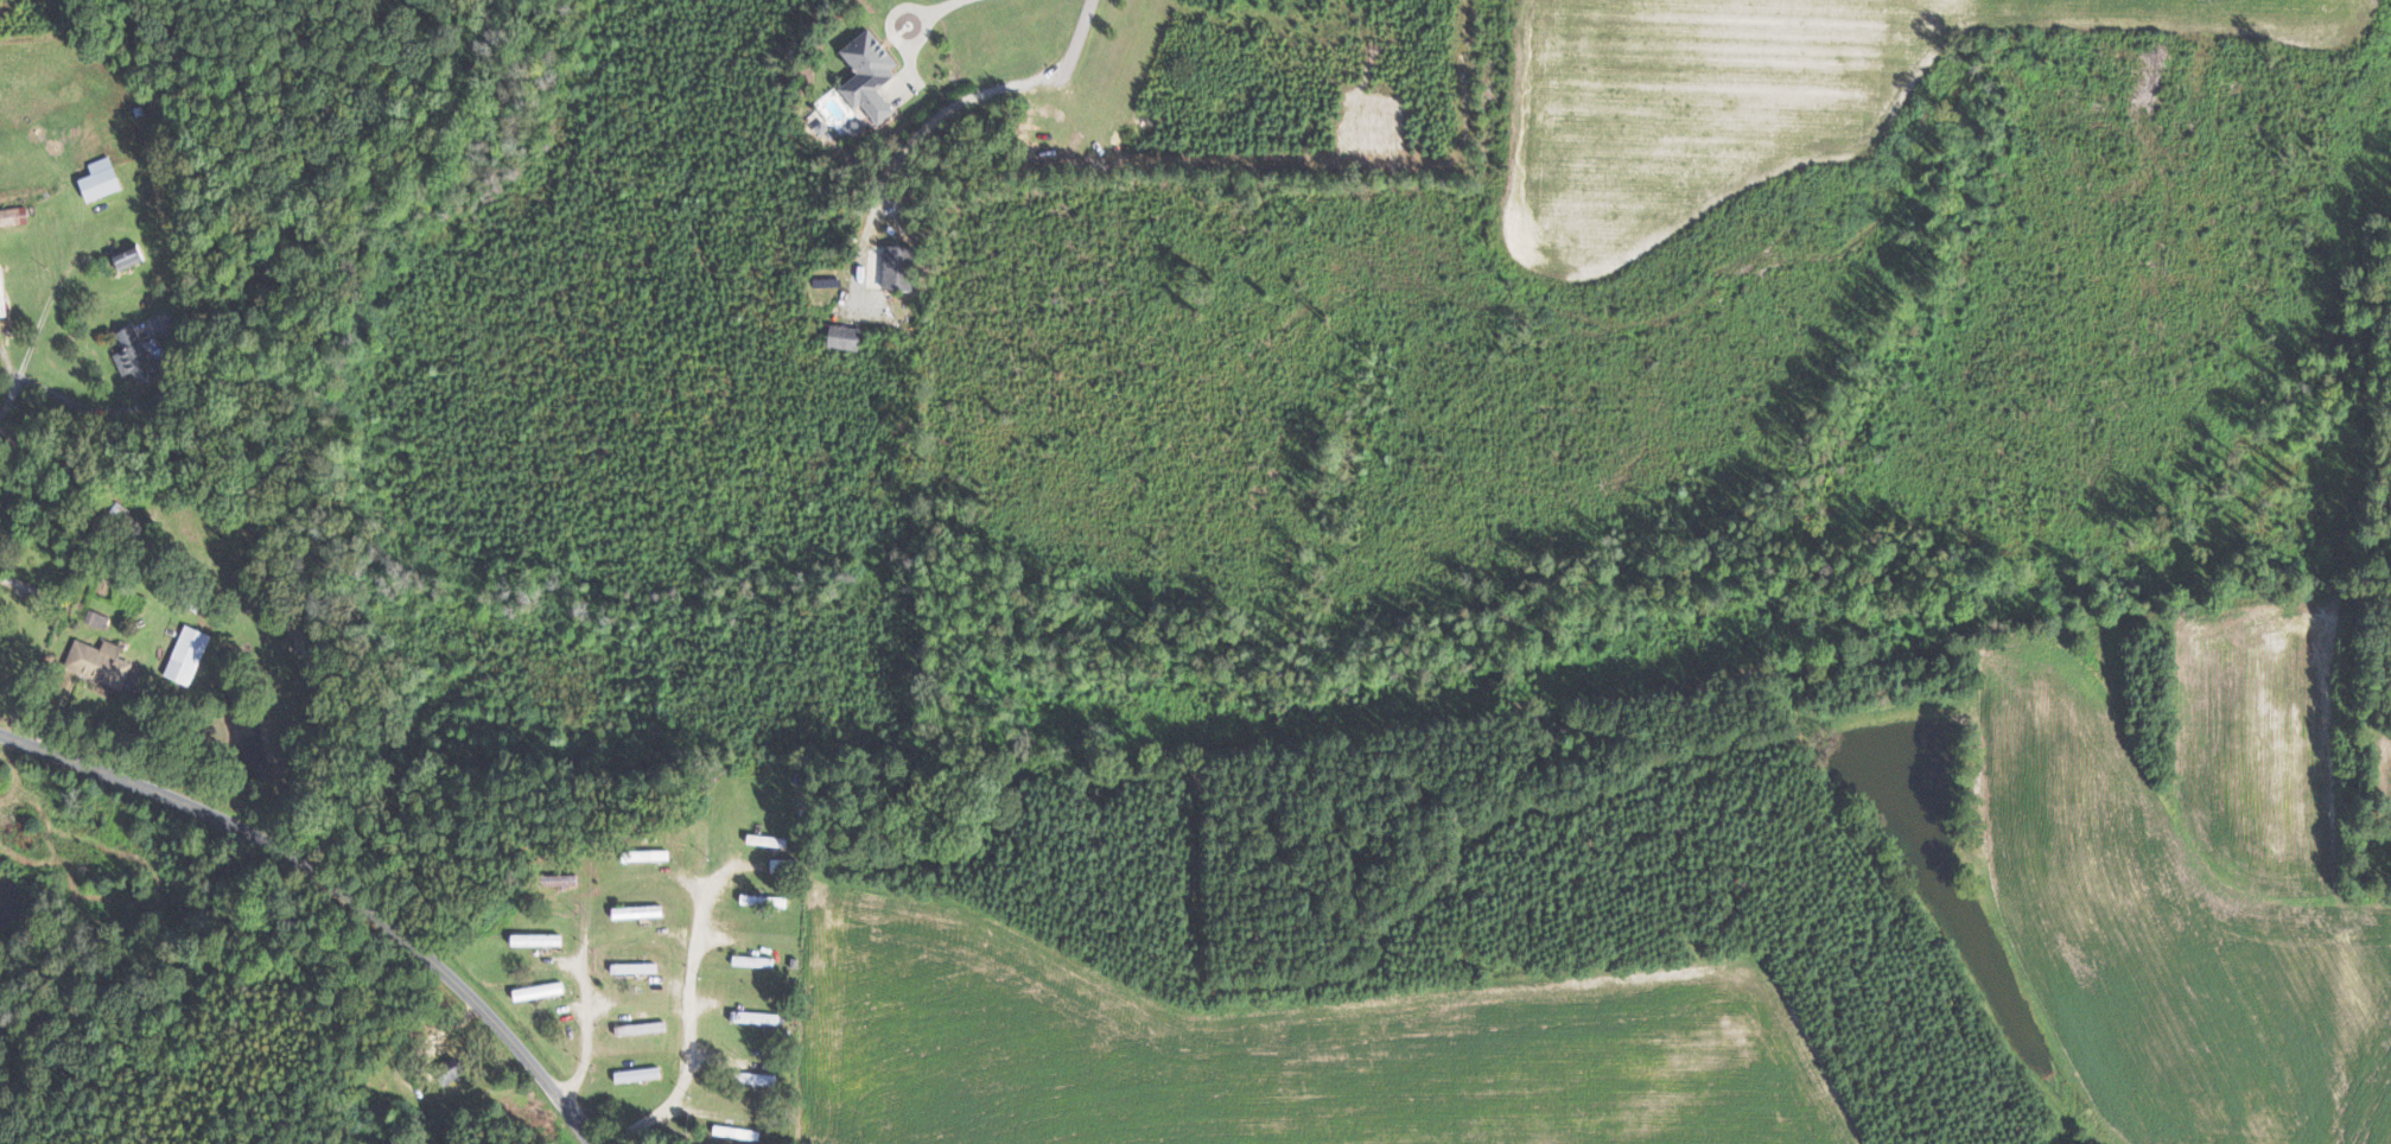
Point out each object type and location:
road: (941, 5)
road: (895, 32)
building: (873, 74)
road: (956, 103)
building: (104, 178)
building: (14, 216)
building: (131, 256)
building: (902, 267)
building: (848, 337)
road: (37, 341)
building: (139, 357)
road: (98, 409)
building: (98, 618)
building: (190, 655)
building: (103, 663)
building: (787, 865)
road: (332, 886)
building: (640, 911)
building: (545, 940)
building: (637, 968)
building: (758, 1018)
road: (586, 1027)
road: (687, 1056)
building: (641, 1074)
building: (761, 1079)
building: (384, 1107)

